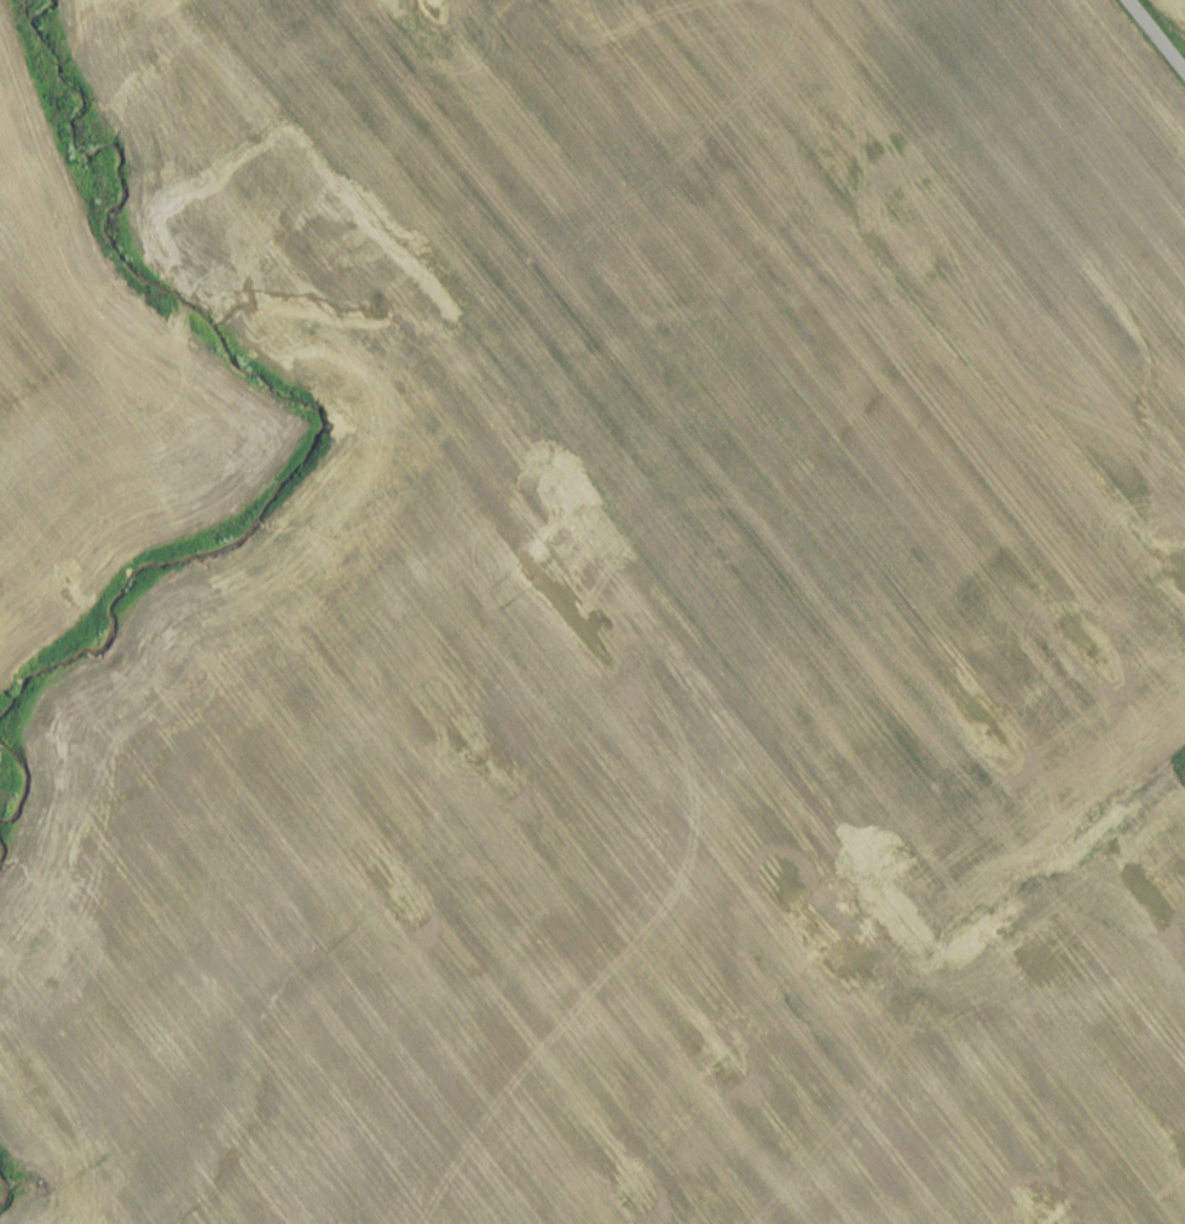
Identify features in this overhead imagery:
road: (1154, 37)

